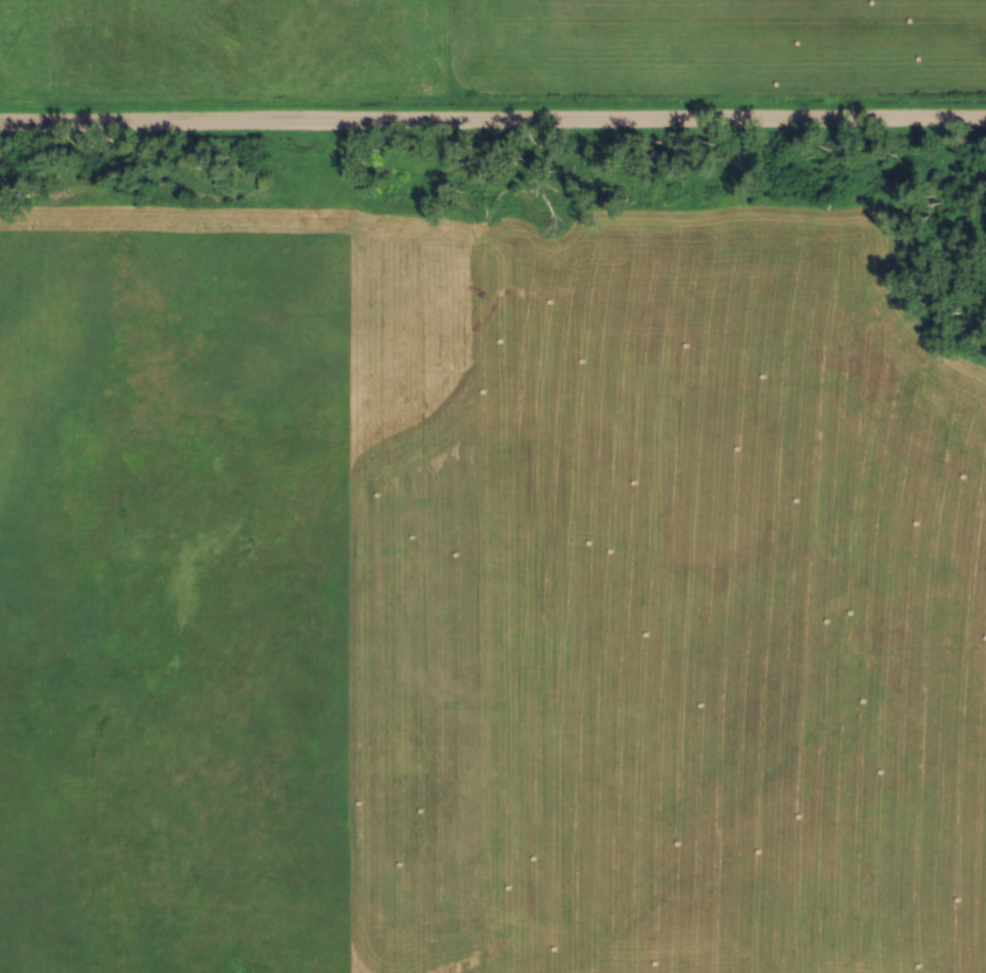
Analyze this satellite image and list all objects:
road: (493, 117)

